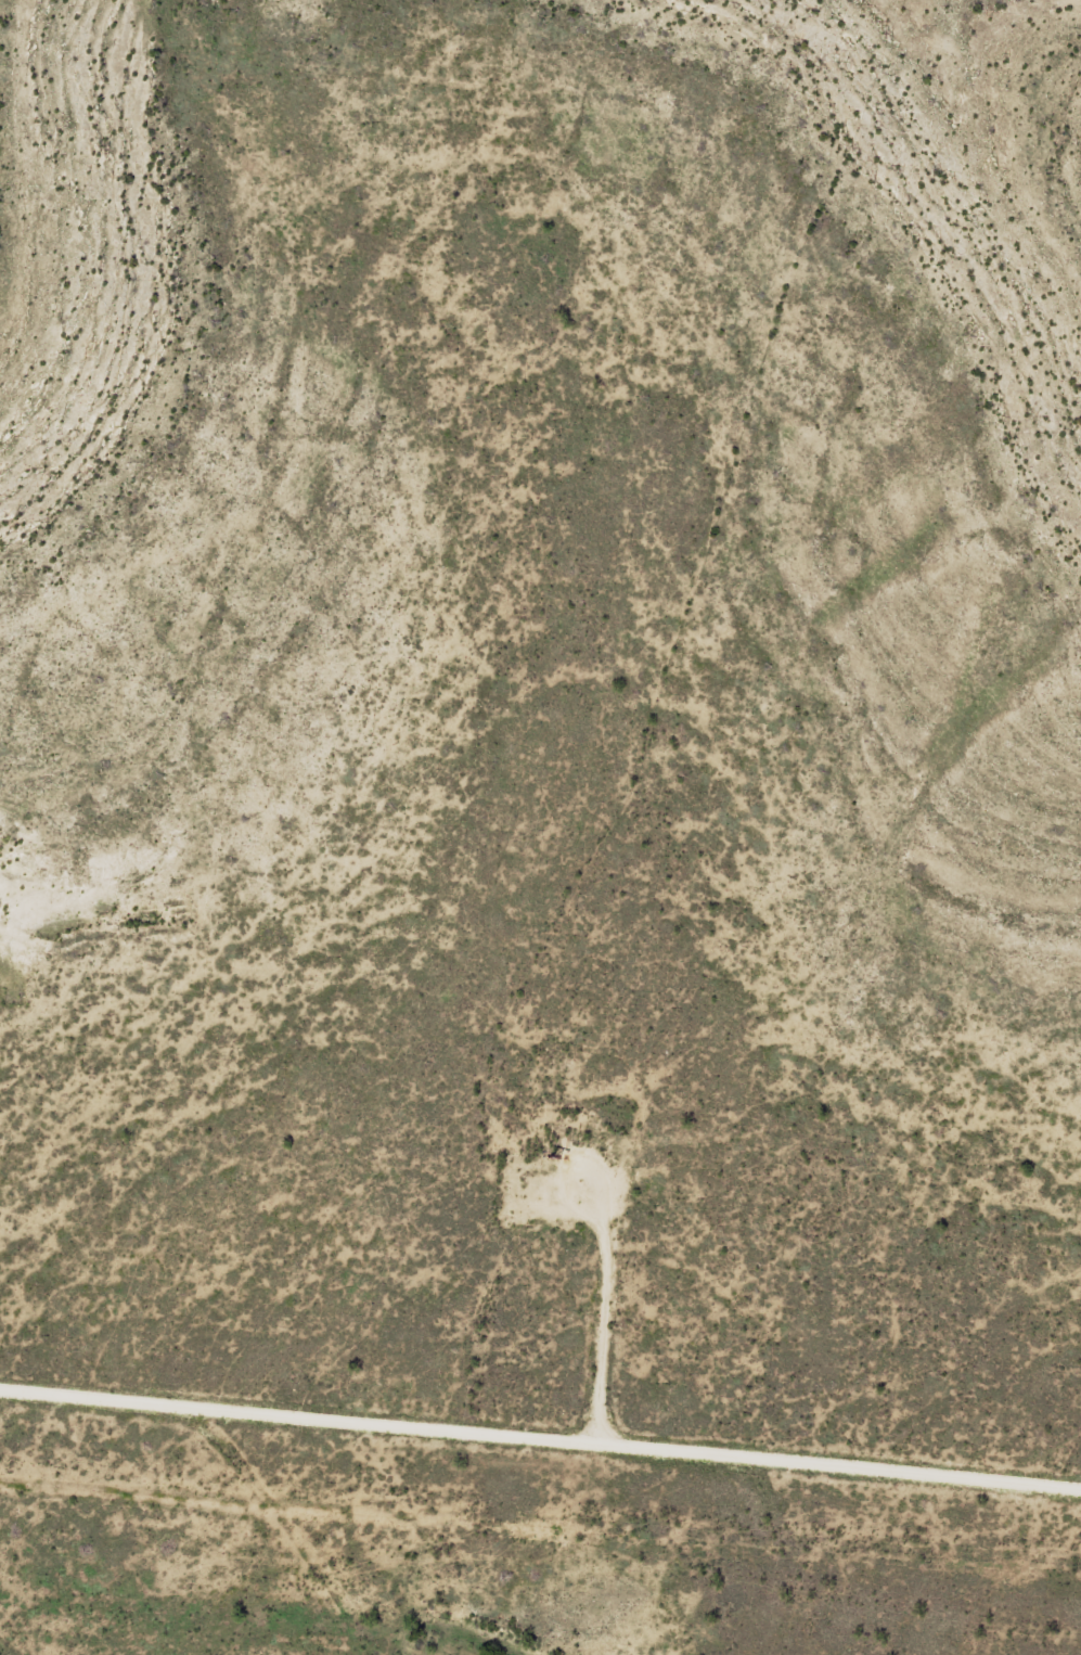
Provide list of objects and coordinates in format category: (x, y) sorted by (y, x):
road: (631, 1325)
road: (539, 1438)

